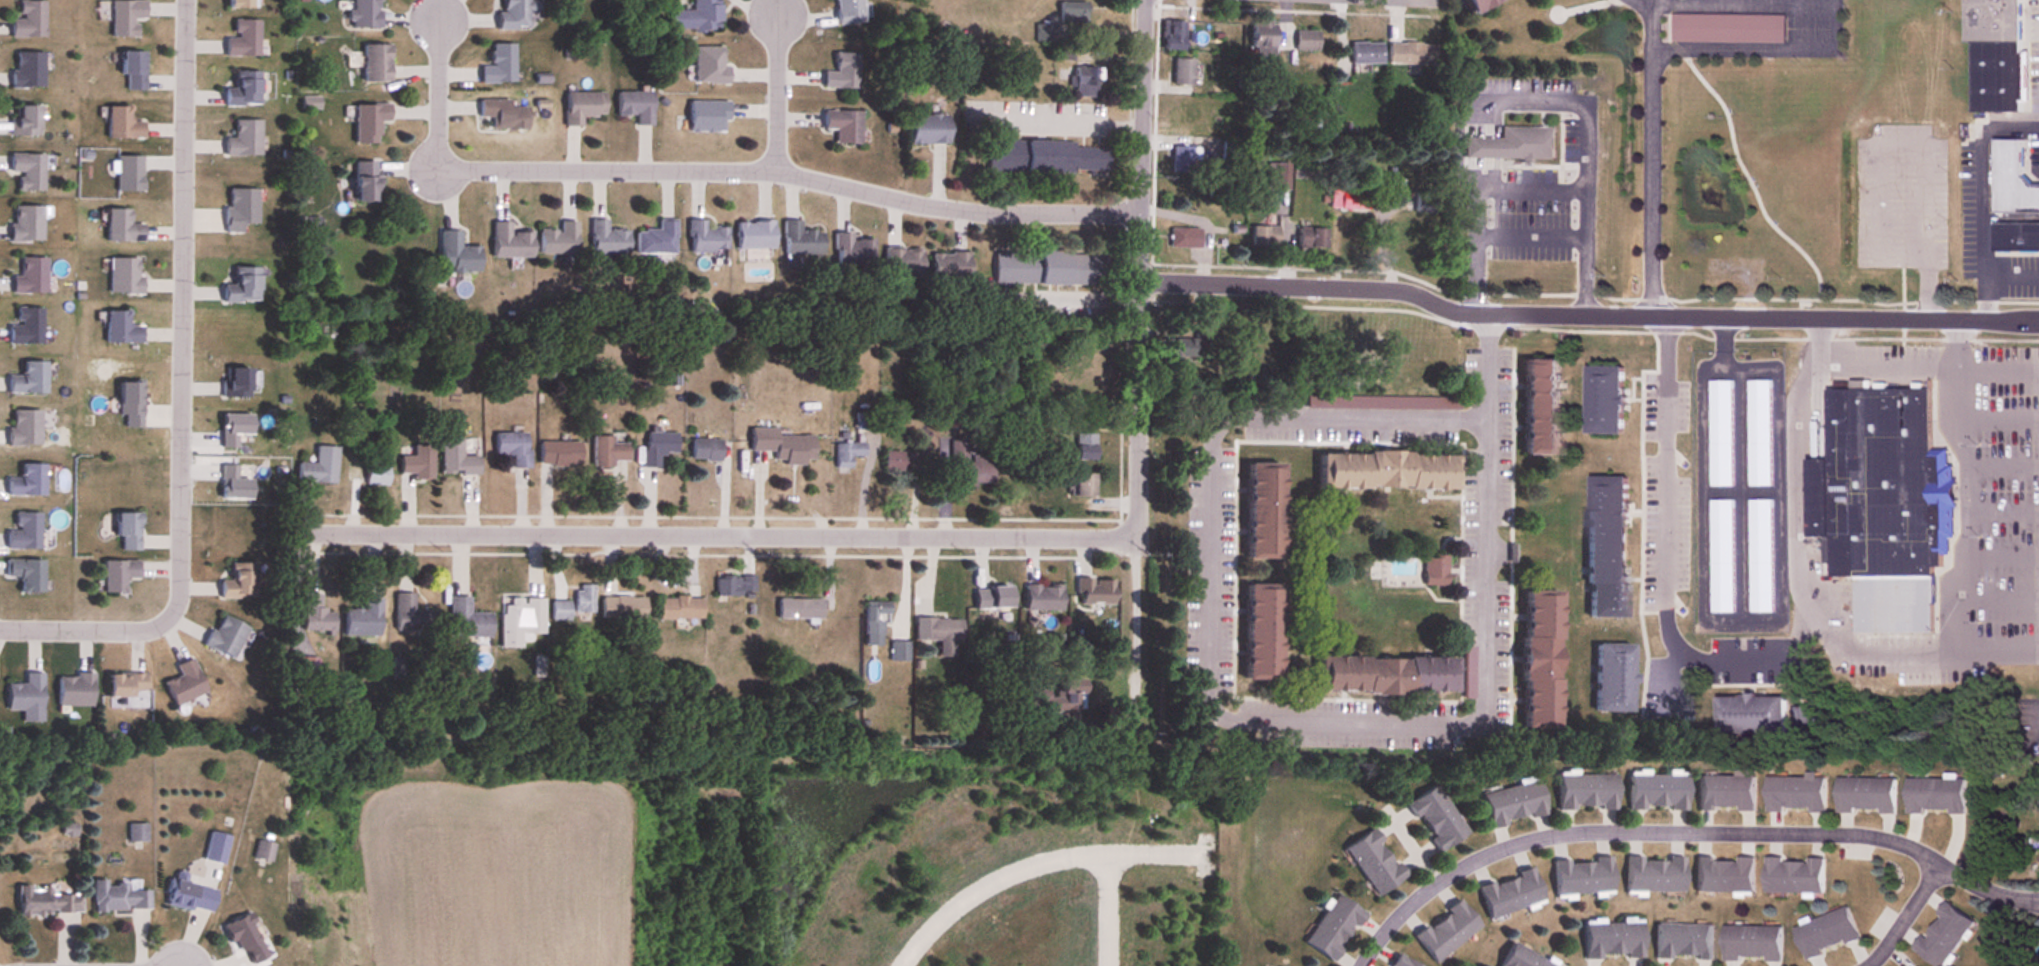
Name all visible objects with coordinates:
building: (235, 3)
road: (1649, 3)
building: (1471, 4)
road: (1638, 4)
road: (1746, 5)
building: (848, 11)
building: (363, 13)
building: (513, 13)
building: (124, 16)
building: (695, 16)
building: (28, 19)
building: (1990, 20)
building: (1727, 28)
building: (1043, 31)
building: (1171, 35)
building: (1262, 37)
building: (242, 38)
building: (1305, 41)
road: (1764, 49)
building: (1365, 53)
building: (1410, 55)
building: (374, 62)
building: (497, 64)
building: (708, 64)
building: (131, 68)
building: (27, 69)
building: (1181, 71)
building: (841, 72)
building: (1995, 76)
building: (1082, 81)
building: (242, 89)
road: (774, 94)
road: (436, 96)
building: (634, 105)
building: (581, 106)
building: (502, 113)
building: (706, 116)
building: (23, 120)
building: (367, 122)
building: (121, 123)
building: (842, 125)
building: (926, 128)
road: (1879, 138)
building: (243, 139)
building: (1512, 145)
building: (1043, 156)
building: (1182, 160)
road: (1647, 161)
building: (31, 170)
road: (789, 172)
building: (361, 181)
building: (2011, 181)
road: (1983, 193)
building: (1219, 195)
building: (1350, 200)
building: (29, 223)
building: (120, 227)
road: (1532, 232)
building: (753, 235)
building: (1264, 236)
building: (2016, 236)
building: (705, 238)
building: (1185, 238)
building: (1311, 238)
building: (557, 239)
building: (606, 239)
building: (656, 239)
building: (800, 240)
building: (509, 241)
building: (852, 250)
building: (454, 253)
building: (902, 262)
building: (949, 266)
building: (1049, 268)
building: (123, 276)
building: (33, 277)
building: (241, 285)
road: (1926, 286)
road: (1588, 316)
building: (29, 326)
building: (119, 328)
building: (1179, 349)
road: (1140, 356)
road: (1488, 363)
road: (1719, 363)
road: (1886, 365)
road: (1973, 367)
building: (31, 379)
building: (1075, 382)
building: (235, 383)
road: (185, 397)
building: (1602, 400)
building: (1539, 407)
road: (1997, 415)
building: (863, 421)
building: (27, 427)
road: (1219, 431)
building: (1720, 433)
building: (1758, 433)
building: (781, 446)
building: (1084, 446)
building: (512, 447)
building: (656, 447)
building: (704, 450)
building: (606, 452)
building: (558, 453)
building: (846, 453)
building: (456, 459)
building: (894, 461)
building: (417, 462)
road: (2003, 463)
building: (319, 466)
building: (968, 466)
building: (366, 471)
building: (1386, 471)
building: (31, 481)
building: (1083, 485)
building: (1882, 505)
road: (1969, 508)
road: (2004, 508)
building: (1260, 510)
building: (126, 529)
road: (720, 531)
building: (27, 532)
building: (1605, 546)
road: (2001, 551)
building: (1721, 556)
building: (1759, 556)
road: (1664, 557)
building: (1435, 570)
building: (29, 574)
building: (116, 574)
building: (239, 582)
building: (734, 586)
building: (1094, 591)
road: (1797, 592)
road: (2001, 595)
building: (995, 597)
building: (1041, 598)
building: (584, 599)
building: (621, 608)
building: (678, 608)
building: (797, 608)
building: (559, 610)
building: (315, 615)
building: (410, 615)
building: (362, 619)
building: (466, 620)
building: (518, 620)
building: (874, 621)
building: (1258, 632)
building: (939, 634)
building: (225, 637)
building: (898, 651)
building: (1537, 659)
building: (304, 670)
building: (1383, 675)
building: (1611, 678)
building: (183, 684)
building: (124, 685)
building: (75, 690)
building: (28, 694)
building: (1035, 695)
building: (1068, 695)
building: (1750, 715)
building: (1584, 792)
building: (1655, 792)
building: (1725, 794)
building: (1795, 794)
building: (1865, 795)
building: (1935, 795)
building: (1511, 804)
building: (1434, 818)
road: (1683, 831)
building: (136, 832)
building: (214, 847)
building: (263, 851)
road: (1034, 862)
building: (1373, 862)
building: (1653, 874)
building: (1723, 875)
building: (1793, 875)
building: (1581, 876)
building: (1509, 893)
building: (121, 895)
building: (188, 896)
building: (51, 901)
road: (1108, 909)
road: (1904, 916)
building: (1331, 927)
building: (1445, 931)
building: (1825, 933)
building: (1942, 935)
building: (243, 938)
building: (1611, 940)
building: (1681, 942)
building: (1752, 944)
building: (1520, 958)
building: (1398, 961)

